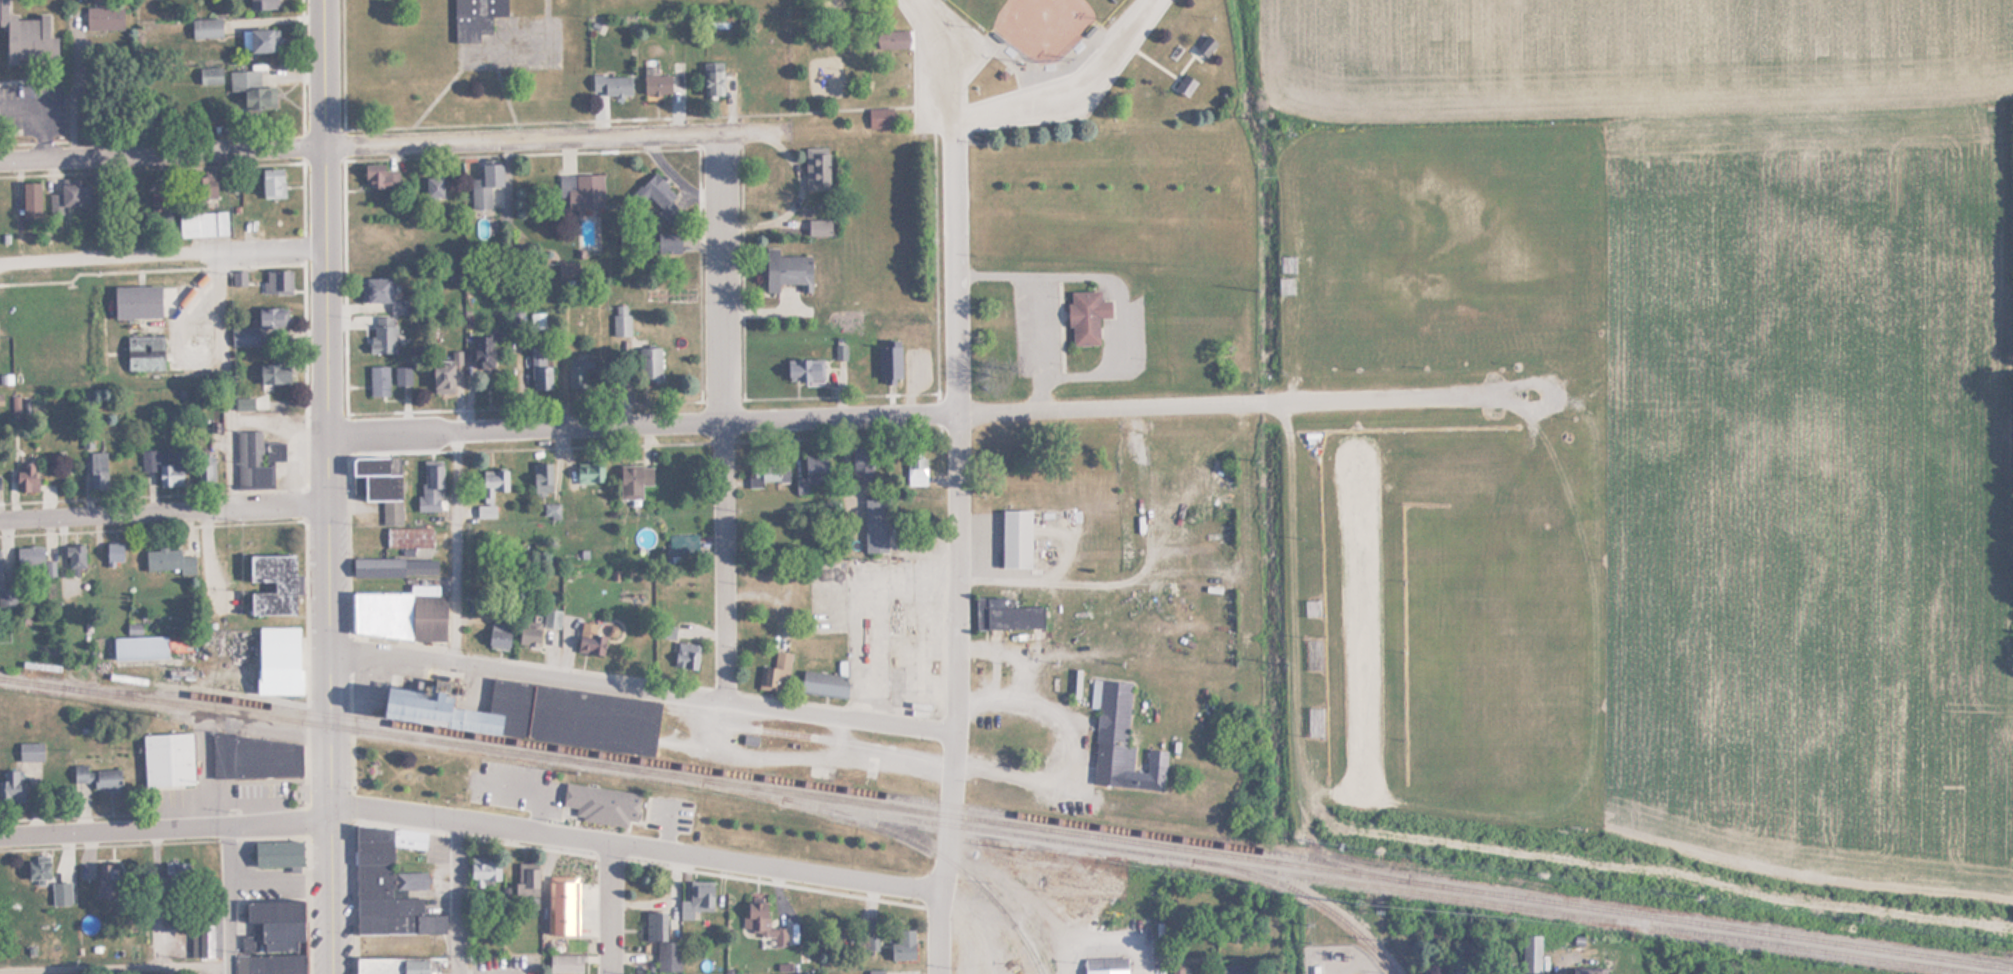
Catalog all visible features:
building: (261, 5)
building: (113, 17)
building: (474, 18)
park: (1032, 22)
building: (206, 28)
building: (24, 36)
building: (896, 40)
building: (260, 41)
building: (1205, 47)
road: (939, 60)
park: (1003, 68)
building: (206, 76)
building: (712, 80)
building: (654, 83)
road: (81, 86)
building: (611, 86)
building: (1184, 86)
building: (248, 92)
road: (1079, 92)
road: (39, 114)
road: (931, 116)
road: (634, 118)
building: (879, 119)
road: (961, 131)
road: (524, 136)
road: (39, 141)
road: (163, 152)
road: (478, 156)
building: (815, 169)
building: (376, 179)
building: (272, 184)
building: (205, 186)
building: (484, 186)
building: (433, 187)
building: (1623, 190)
building: (581, 191)
building: (160, 195)
building: (64, 198)
building: (31, 199)
building: (659, 199)
building: (211, 223)
building: (385, 236)
building: (1580, 239)
road: (163, 254)
building: (1744, 268)
road: (154, 270)
road: (943, 270)
building: (784, 271)
road: (748, 279)
building: (1578, 280)
building: (277, 282)
building: (375, 290)
building: (136, 302)
building: (1085, 316)
building: (622, 323)
building: (260, 325)
building: (1702, 336)
road: (1121, 339)
building: (383, 340)
building: (1653, 345)
building: (487, 351)
building: (144, 353)
building: (648, 363)
building: (889, 364)
building: (540, 367)
building: (803, 368)
building: (273, 372)
building: (583, 374)
building: (440, 375)
building: (378, 379)
road: (225, 382)
road: (1044, 392)
road: (964, 396)
road: (654, 402)
road: (328, 405)
road: (922, 411)
road: (725, 414)
building: (1571, 441)
road: (655, 443)
building: (255, 458)
building: (861, 463)
building: (163, 465)
building: (915, 467)
building: (97, 469)
building: (589, 472)
building: (768, 473)
building: (810, 476)
building: (541, 477)
building: (29, 478)
building: (633, 479)
building: (380, 482)
building: (491, 483)
building: (430, 484)
road: (312, 486)
road: (346, 488)
road: (156, 495)
building: (485, 510)
road: (165, 514)
building: (874, 525)
road: (156, 528)
building: (408, 536)
building: (1014, 538)
road: (461, 545)
building: (113, 553)
building: (75, 555)
building: (30, 556)
building: (167, 560)
building: (393, 566)
building: (271, 583)
building: (7, 595)
building: (398, 613)
building: (1005, 614)
building: (551, 617)
parking lot: (888, 624)
building: (527, 633)
building: (498, 634)
building: (589, 639)
building: (138, 647)
road: (1018, 654)
building: (685, 655)
building: (277, 660)
road: (602, 672)
building: (774, 672)
building: (823, 683)
road: (644, 687)
road: (794, 700)
building: (534, 714)
road: (956, 730)
building: (1119, 740)
road: (1068, 748)
building: (30, 751)
building: (255, 757)
building: (166, 759)
building: (99, 776)
building: (497, 776)
railway: (750, 776)
building: (11, 785)
building: (615, 803)
park: (620, 805)
road: (157, 814)
railway: (1006, 824)
road: (166, 827)
road: (156, 843)
road: (634, 849)
building: (276, 853)
road: (643, 861)
railway: (955, 865)
building: (37, 867)
building: (483, 869)
building: (105, 880)
building: (526, 880)
railway: (1360, 883)
building: (388, 885)
building: (567, 885)
road: (938, 891)
road: (332, 892)
building: (61, 893)
road: (459, 897)
building: (193, 899)
road: (227, 899)
building: (695, 903)
railway: (1322, 904)
road: (611, 910)
building: (274, 922)
building: (761, 925)
building: (661, 943)
building: (871, 943)
building: (903, 946)
building: (1531, 954)
building: (268, 962)
building: (566, 964)
building: (396, 965)
building: (1105, 965)
building: (1232, 969)
road: (114, 970)
building: (1456, 971)
building: (1587, 971)
building: (875, 972)

